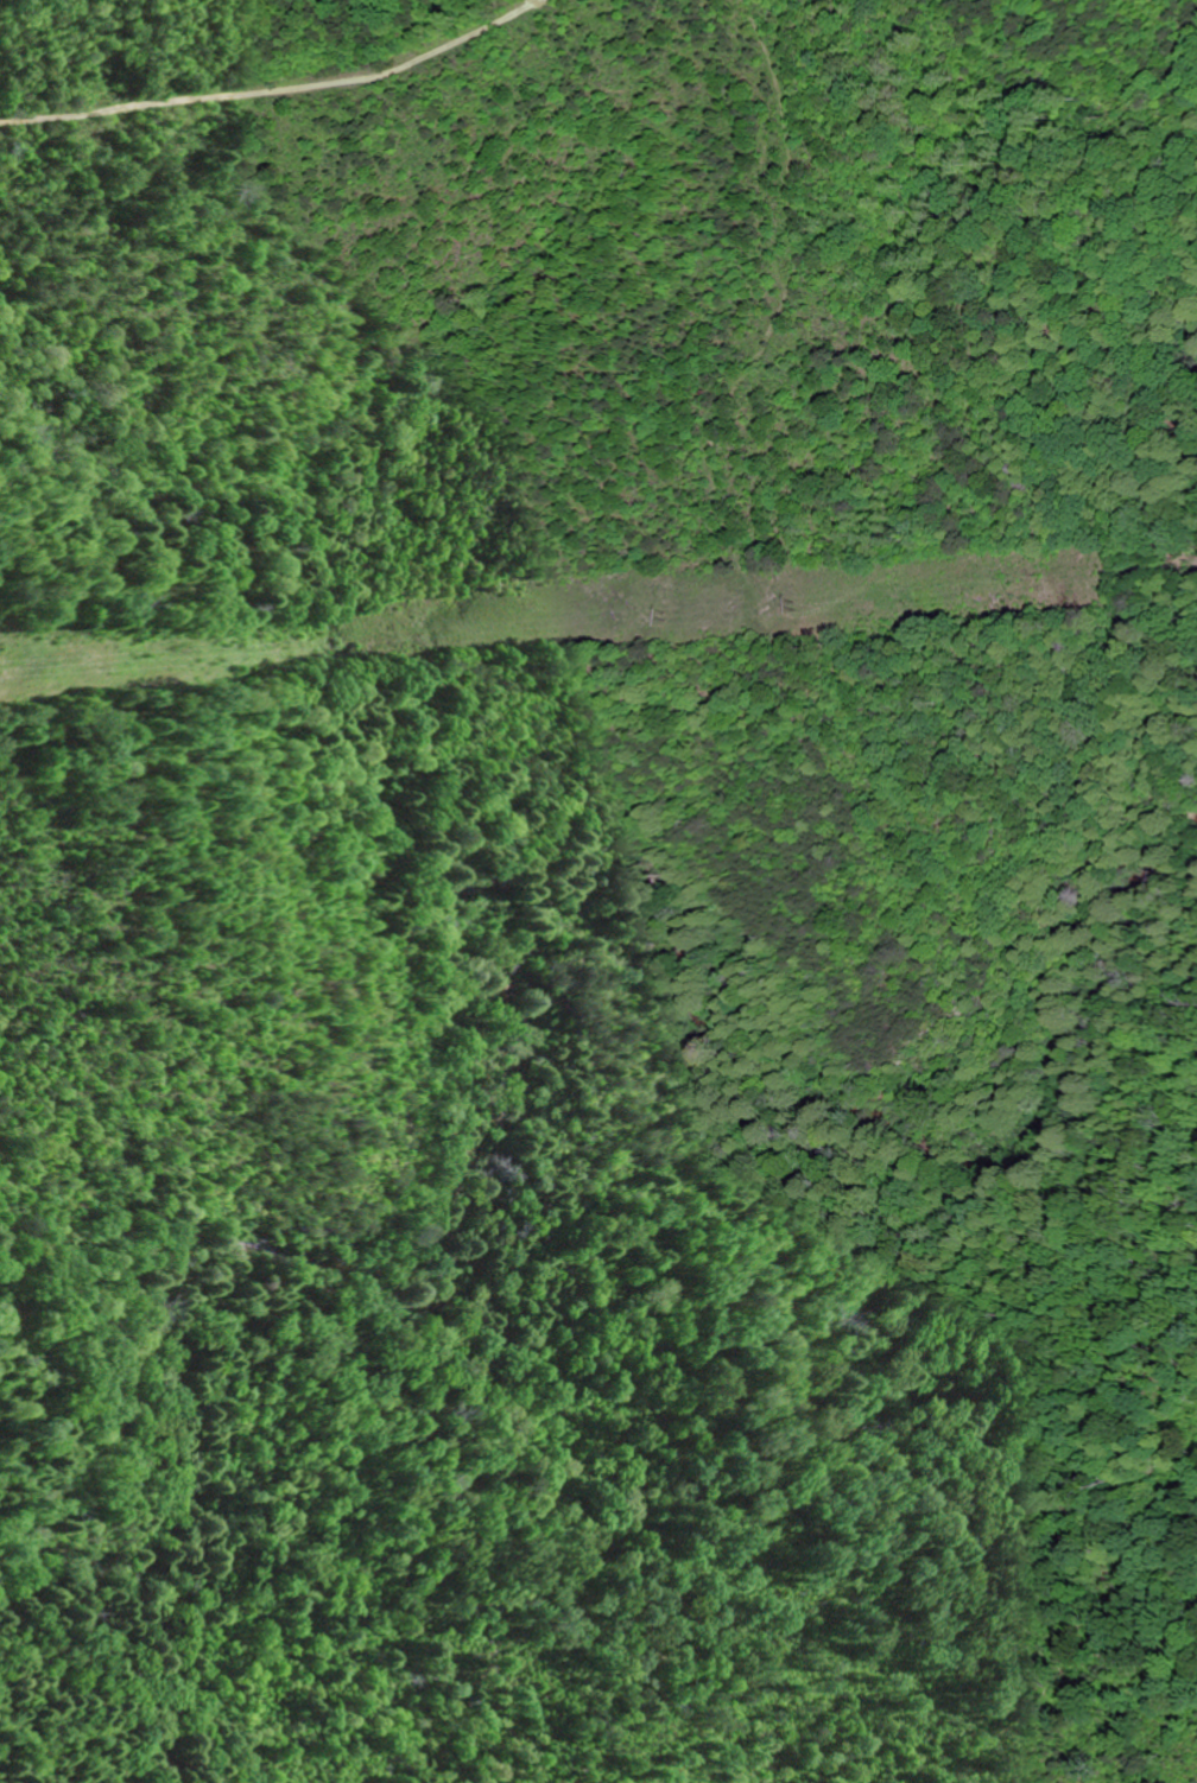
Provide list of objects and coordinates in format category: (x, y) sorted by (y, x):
road: (279, 90)

